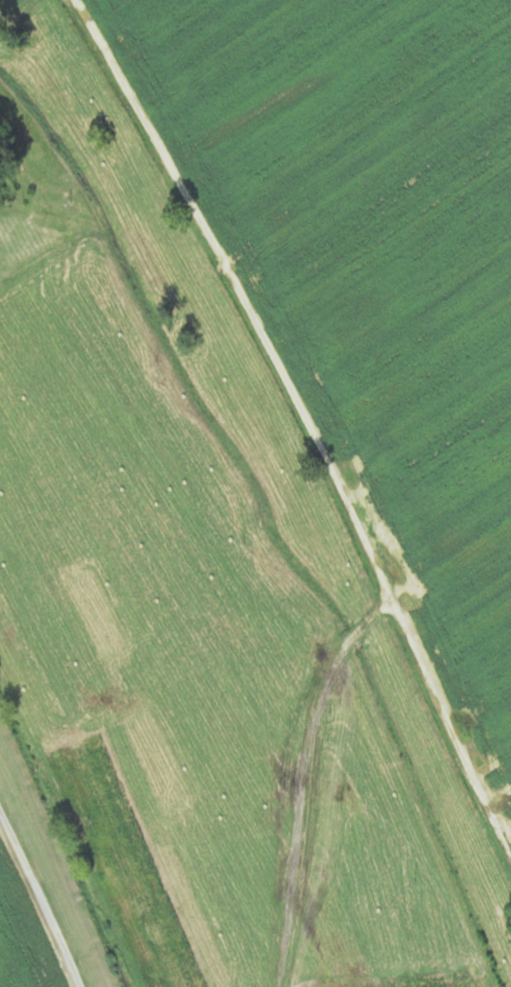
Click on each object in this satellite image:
road: (307, 420)
road: (271, 984)

